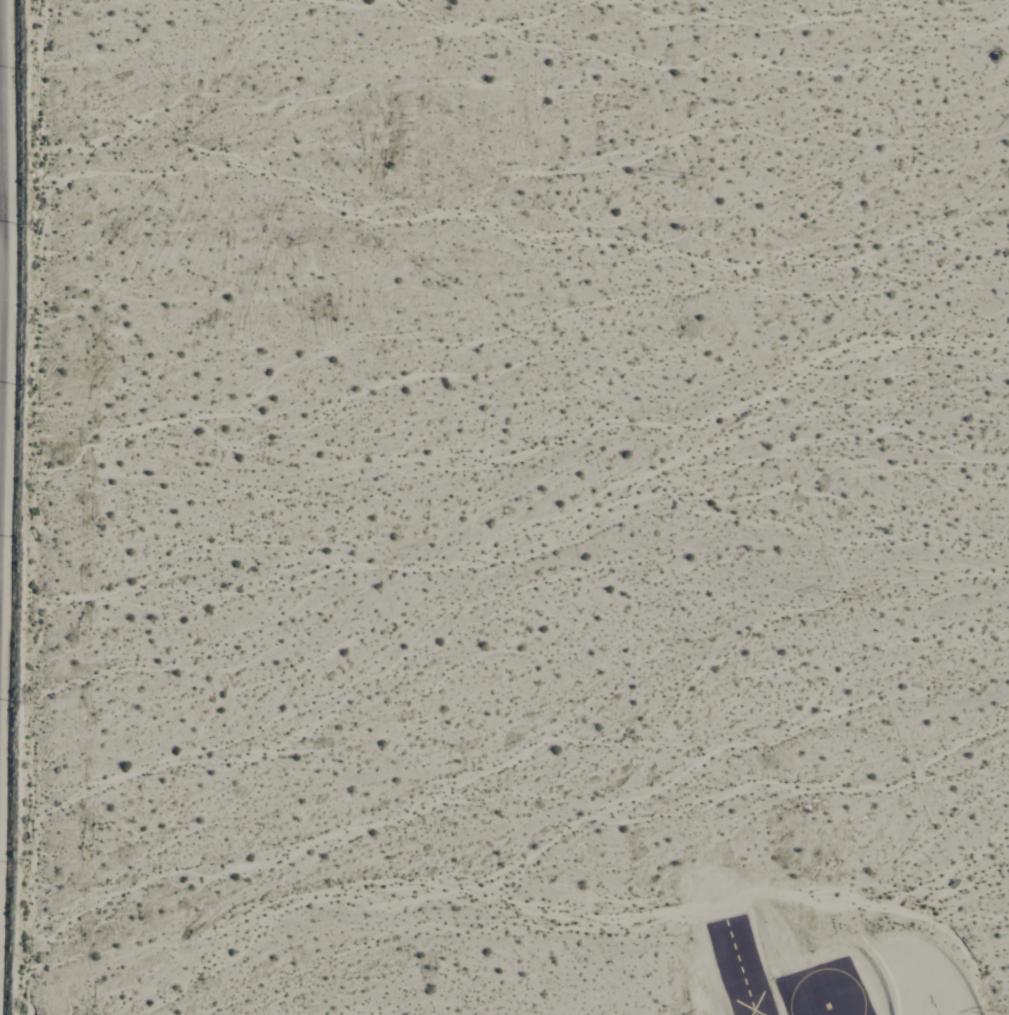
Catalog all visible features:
power tower: (696, 174)
power tower: (863, 592)
parking lot: (914, 979)
park: (824, 990)

